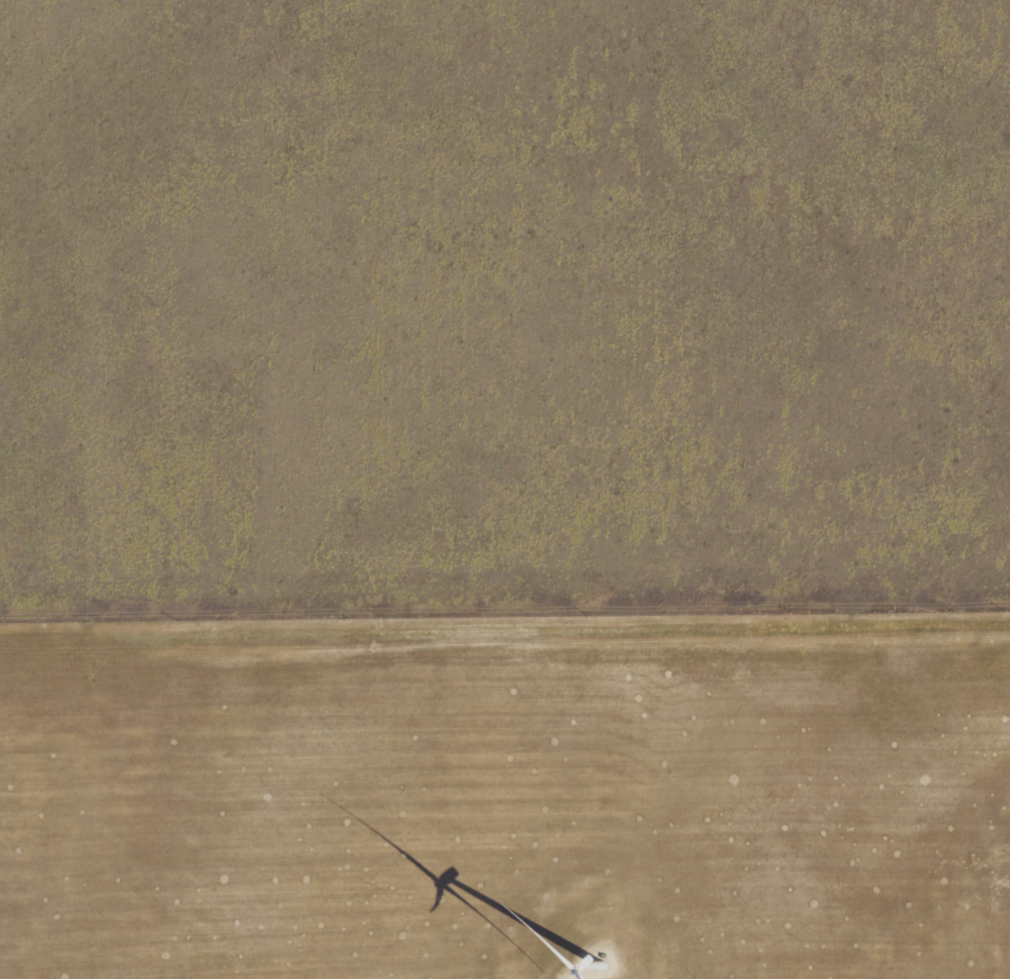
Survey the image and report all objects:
wind turbine: (592, 953)

